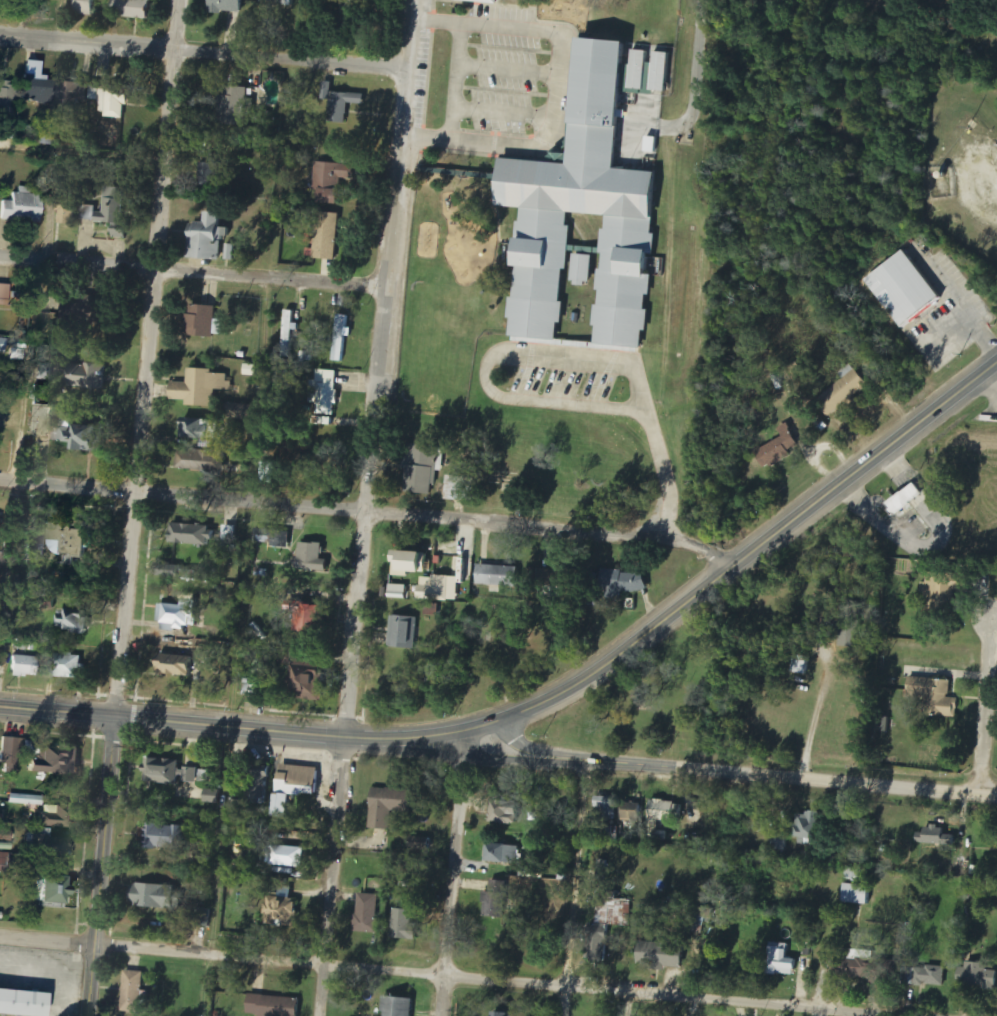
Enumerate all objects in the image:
building: (482, 1)
building: (277, 2)
building: (355, 4)
building: (224, 6)
building: (83, 7)
building: (129, 9)
road: (206, 55)
building: (644, 73)
building: (37, 85)
building: (72, 95)
building: (7, 97)
building: (111, 99)
building: (340, 103)
building: (234, 107)
building: (352, 113)
building: (47, 136)
building: (198, 146)
building: (207, 174)
building: (331, 181)
building: (115, 206)
building: (24, 207)
building: (69, 210)
building: (589, 210)
building: (92, 213)
building: (122, 231)
building: (325, 237)
building: (210, 238)
building: (580, 266)
road: (194, 278)
building: (901, 289)
building: (5, 294)
building: (100, 317)
building: (204, 323)
building: (292, 323)
building: (341, 337)
building: (18, 352)
road: (143, 360)
building: (251, 370)
building: (45, 371)
building: (87, 376)
building: (201, 387)
building: (841, 391)
building: (326, 392)
building: (243, 412)
building: (200, 429)
building: (85, 436)
building: (776, 449)
building: (201, 460)
building: (326, 466)
building: (267, 469)
building: (423, 469)
building: (462, 489)
building: (902, 500)
road: (364, 507)
road: (367, 514)
building: (231, 533)
building: (194, 535)
building: (0, 538)
building: (270, 538)
building: (73, 539)
road: (744, 555)
building: (315, 558)
building: (415, 561)
building: (176, 570)
building: (502, 576)
building: (554, 578)
building: (627, 581)
building: (443, 589)
building: (401, 592)
building: (48, 602)
building: (434, 610)
building: (182, 612)
building: (313, 619)
building: (75, 621)
building: (850, 623)
building: (405, 632)
building: (290, 656)
building: (25, 666)
building: (69, 666)
building: (805, 666)
building: (178, 667)
building: (311, 681)
building: (254, 688)
building: (936, 696)
road: (985, 707)
road: (236, 730)
building: (955, 736)
building: (13, 753)
building: (61, 761)
building: (172, 772)
road: (731, 776)
building: (208, 777)
building: (299, 787)
building: (215, 797)
building: (28, 799)
building: (392, 806)
building: (238, 808)
building: (606, 808)
building: (633, 811)
building: (667, 812)
building: (509, 813)
building: (61, 816)
building: (810, 828)
building: (6, 835)
building: (934, 836)
building: (168, 837)
building: (780, 843)
building: (422, 844)
building: (53, 846)
building: (506, 854)
building: (291, 857)
building: (3, 862)
road: (96, 868)
road: (455, 873)
road: (574, 889)
building: (58, 890)
building: (855, 894)
building: (157, 896)
building: (498, 900)
building: (286, 913)
building: (369, 913)
building: (607, 923)
building: (699, 923)
building: (406, 925)
road: (825, 952)
building: (659, 954)
building: (779, 961)
building: (858, 970)
building: (979, 976)
building: (923, 977)
road: (443, 979)
building: (135, 992)
building: (23, 1002)
building: (274, 1006)
building: (396, 1006)
road: (819, 1012)
building: (501, 1014)

